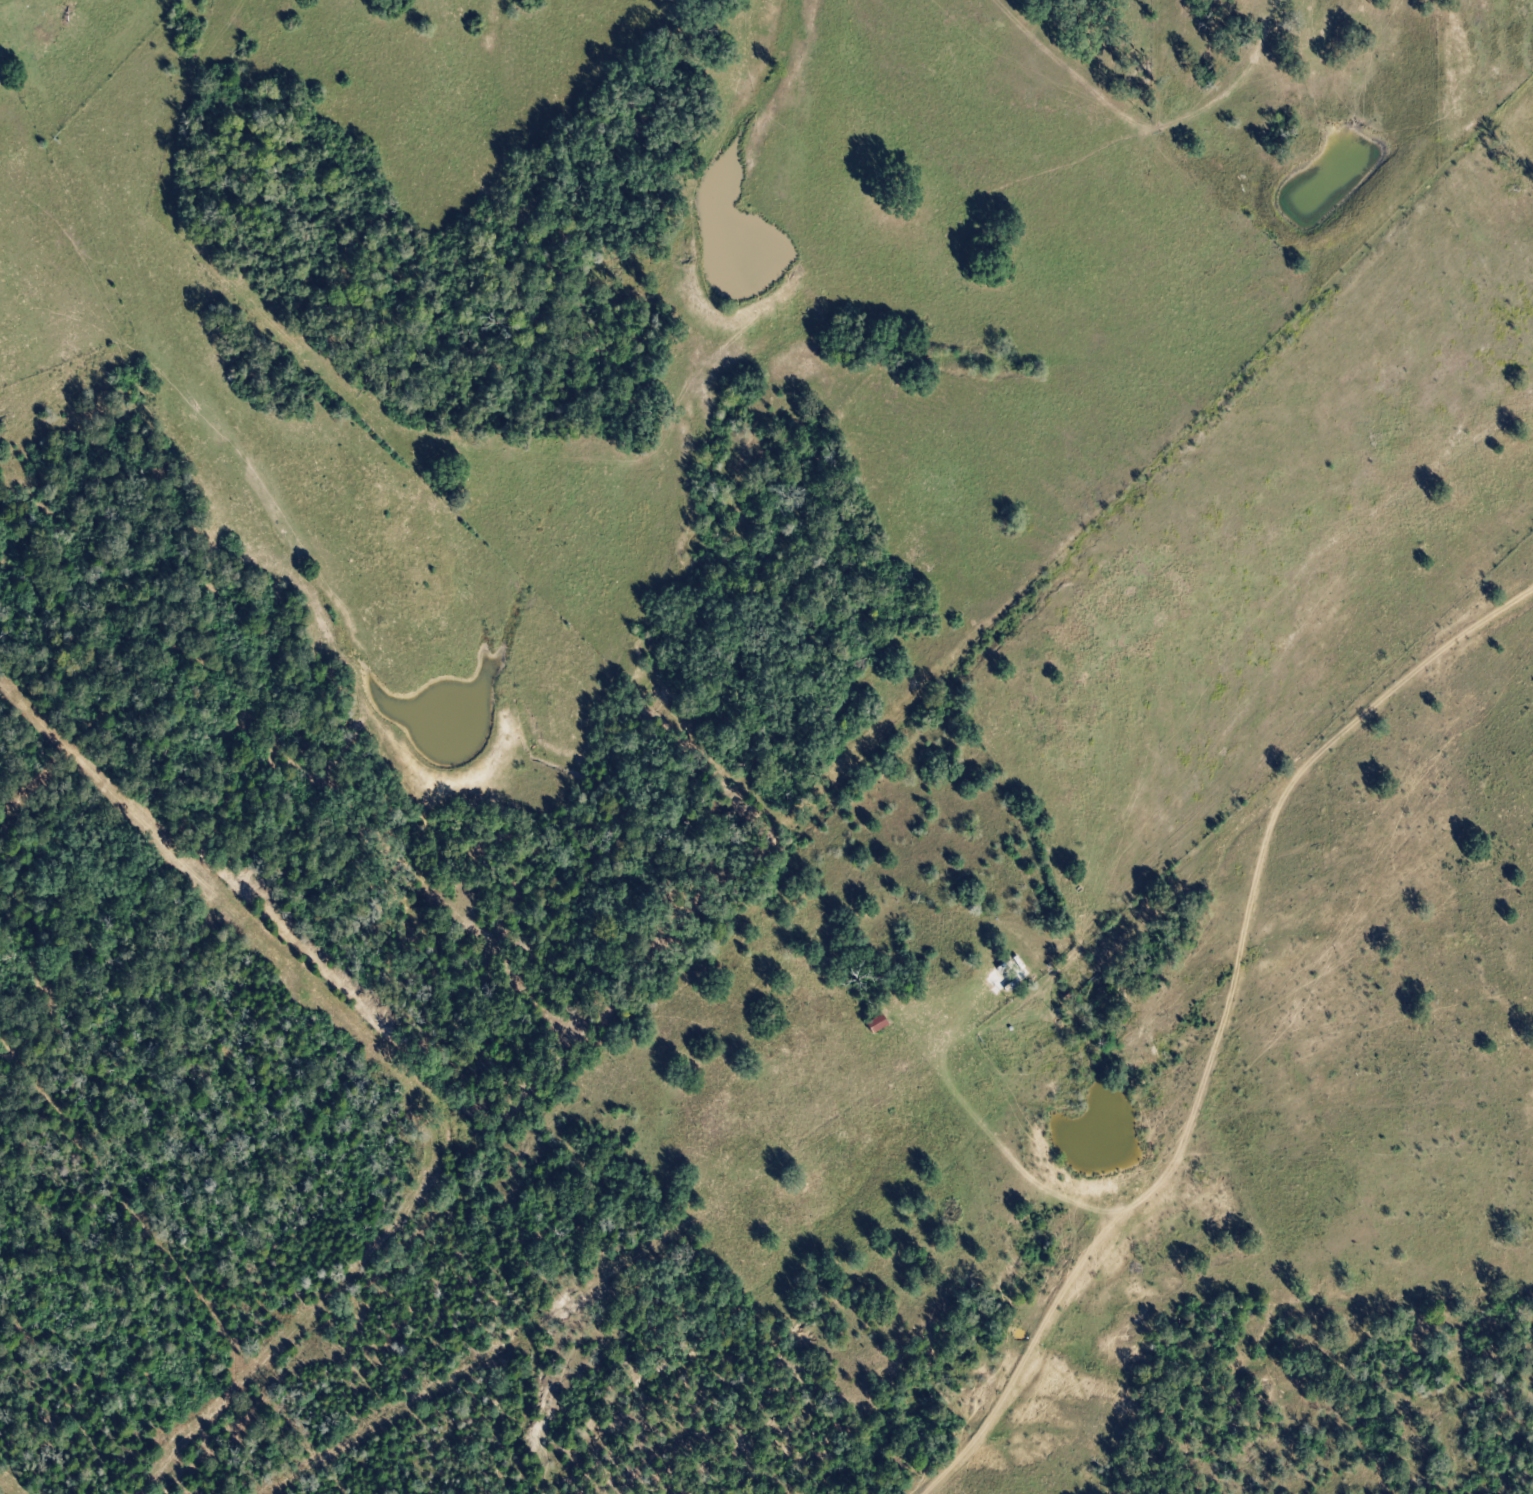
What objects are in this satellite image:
road: (1301, 820)

